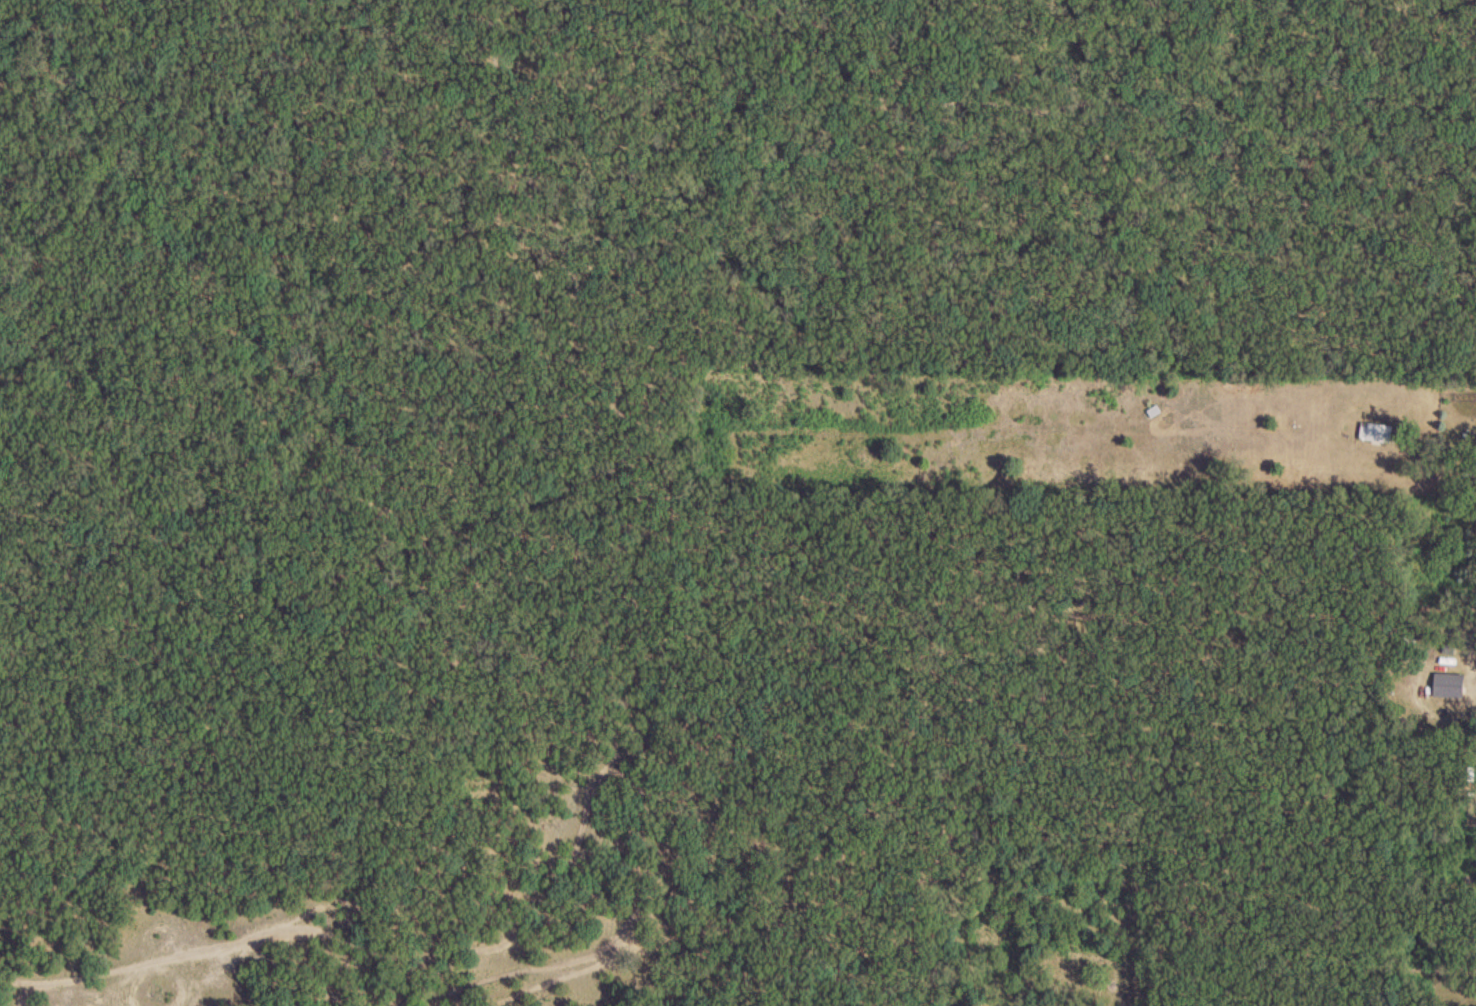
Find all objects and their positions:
building: (1154, 412)
building: (1378, 433)
building: (1449, 686)

